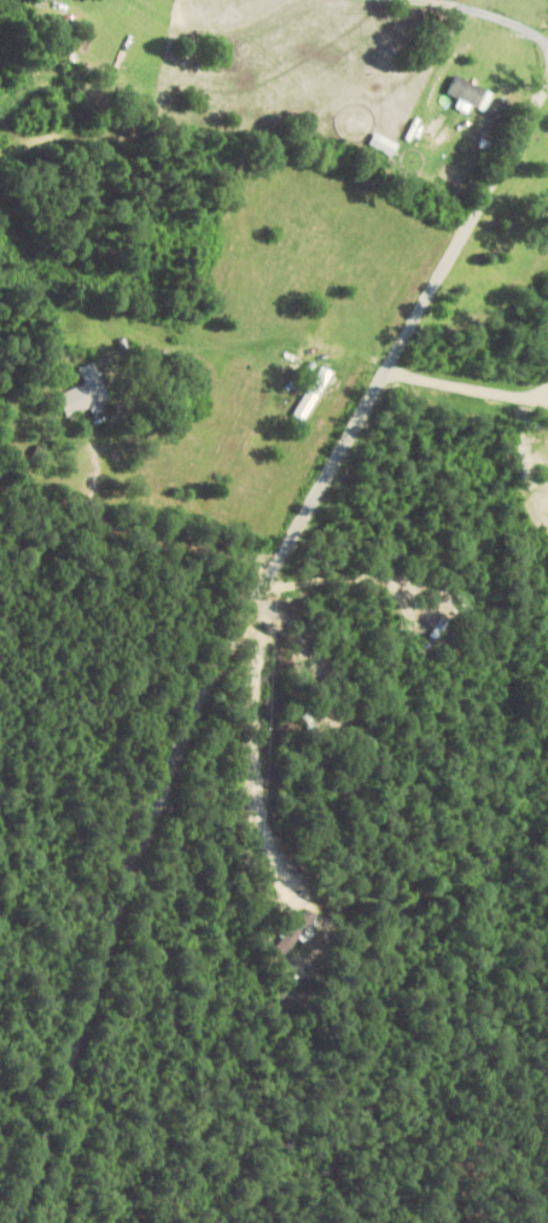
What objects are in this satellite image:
road: (21, 108)
building: (84, 393)

